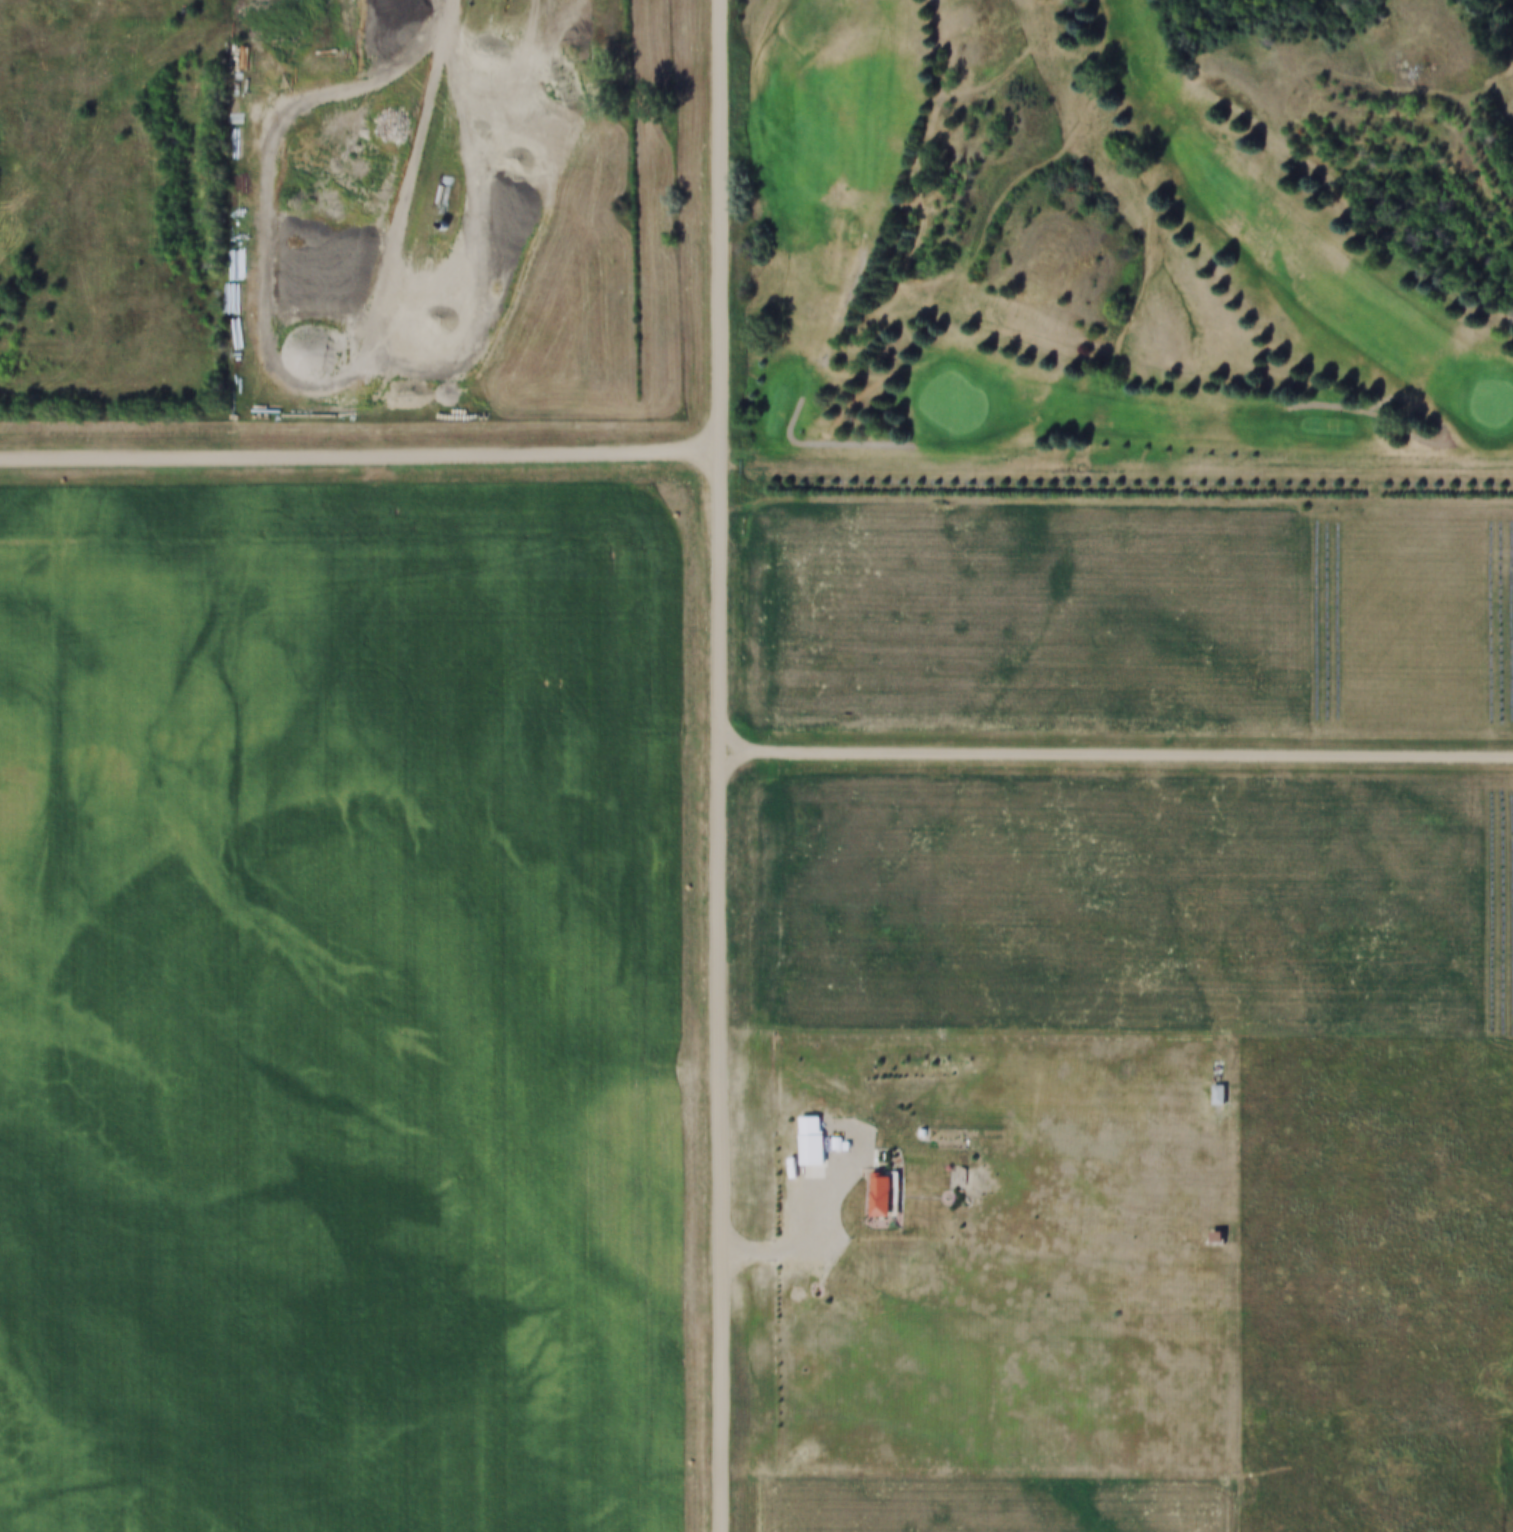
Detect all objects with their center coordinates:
road: (216, 45)
road: (419, 181)
building: (438, 233)
building: (430, 236)
park: (1126, 251)
road: (364, 459)
road: (1120, 475)
road: (1121, 759)
road: (729, 766)
building: (910, 1136)
building: (812, 1138)
building: (798, 1144)
building: (826, 1147)
building: (951, 1178)
building: (882, 1191)
building: (866, 1198)

